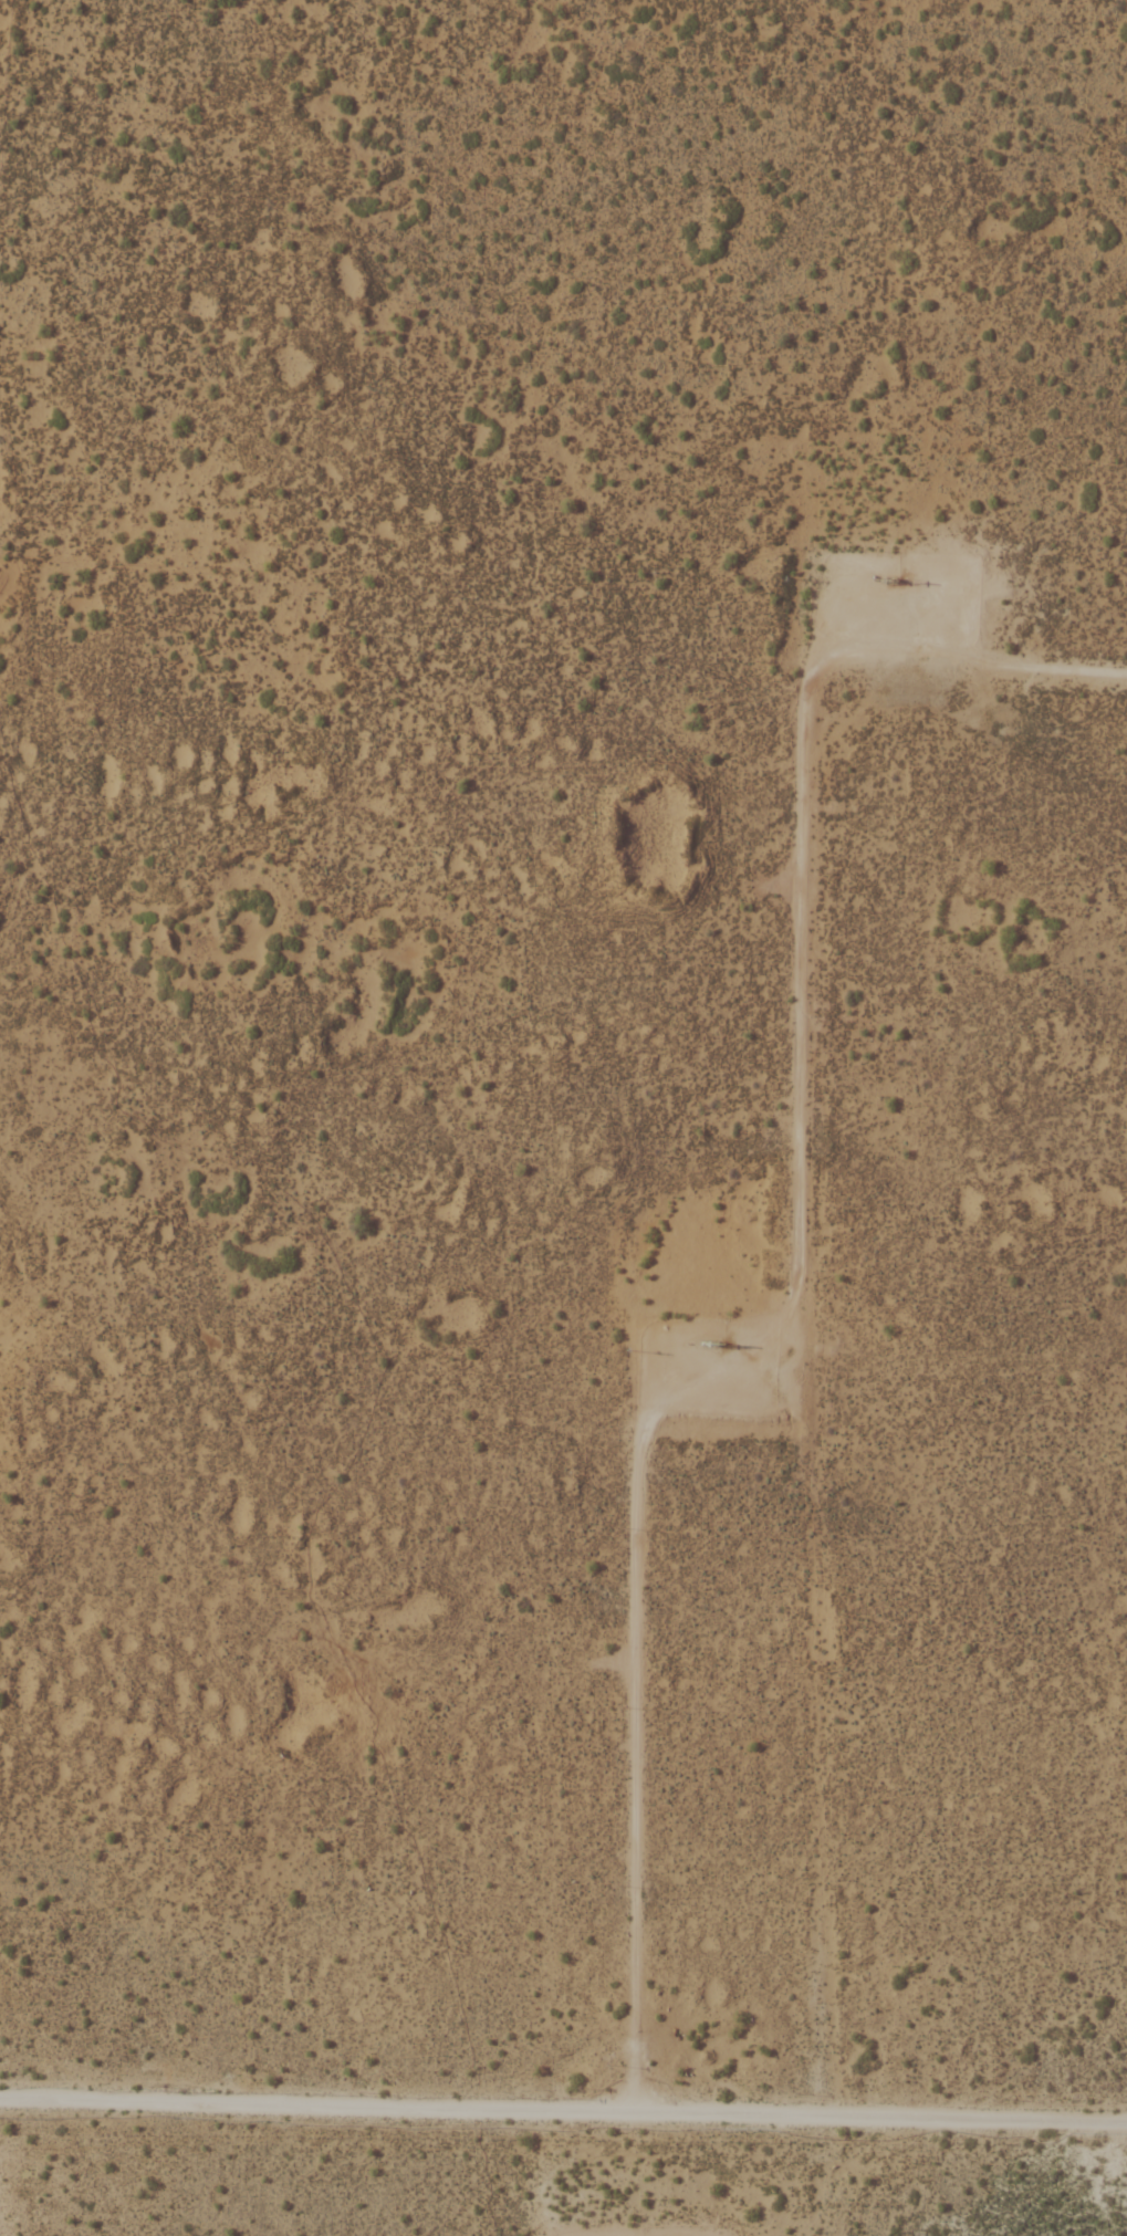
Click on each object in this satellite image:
petroleum well: (880, 576)
road: (812, 1260)
petroleum well: (707, 1334)
road: (563, 2104)

